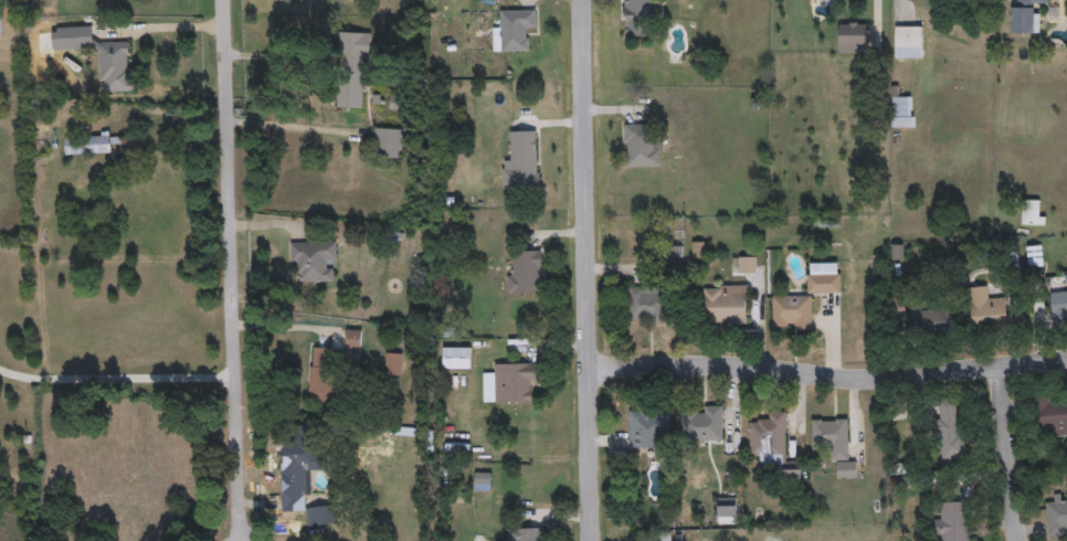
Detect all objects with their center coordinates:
building: (1024, 15)
building: (637, 17)
building: (0, 28)
building: (511, 28)
building: (852, 36)
building: (908, 41)
building: (106, 57)
road: (277, 57)
building: (351, 68)
building: (901, 109)
building: (94, 144)
building: (642, 145)
building: (521, 162)
building: (1032, 212)
building: (1035, 255)
building: (314, 258)
building: (746, 263)
road: (229, 270)
building: (524, 270)
road: (585, 270)
building: (824, 277)
building: (646, 303)
building: (1058, 303)
building: (725, 304)
building: (986, 307)
building: (792, 310)
building: (927, 319)
building: (352, 338)
building: (456, 357)
building: (393, 362)
building: (321, 373)
road: (827, 376)
road: (115, 378)
building: (514, 381)
building: (1052, 414)
building: (701, 422)
building: (646, 426)
building: (949, 428)
building: (834, 442)
building: (772, 446)
road: (1004, 456)
building: (304, 482)
building: (727, 510)
building: (1056, 513)
building: (951, 521)
building: (526, 534)

